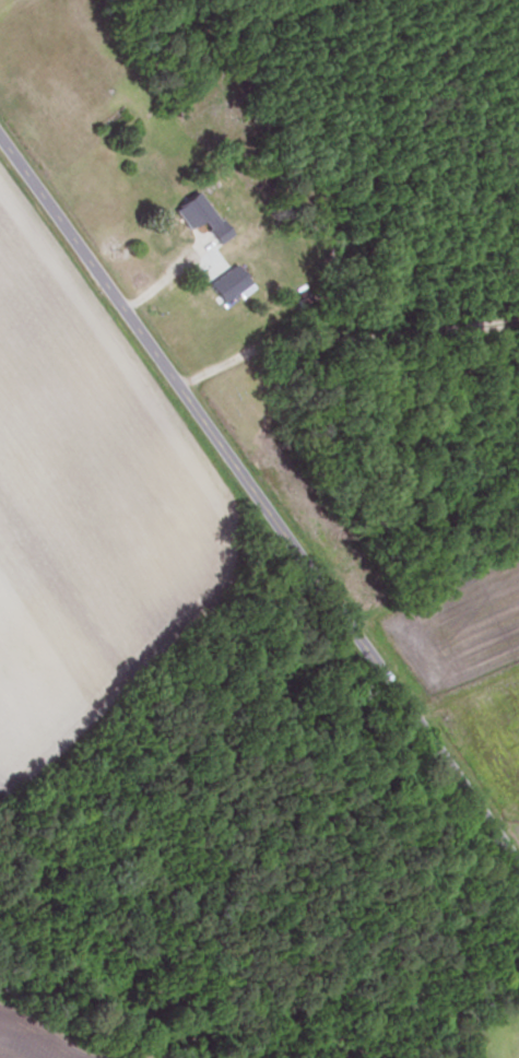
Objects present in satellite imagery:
building: (164, 234)
road: (262, 501)

